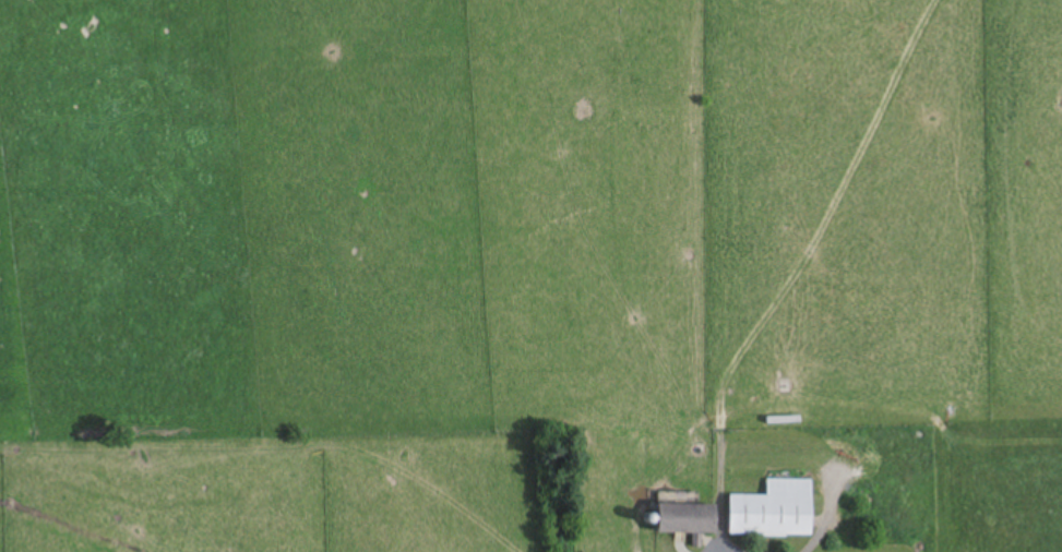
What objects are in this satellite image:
building: (775, 511)
building: (689, 518)

